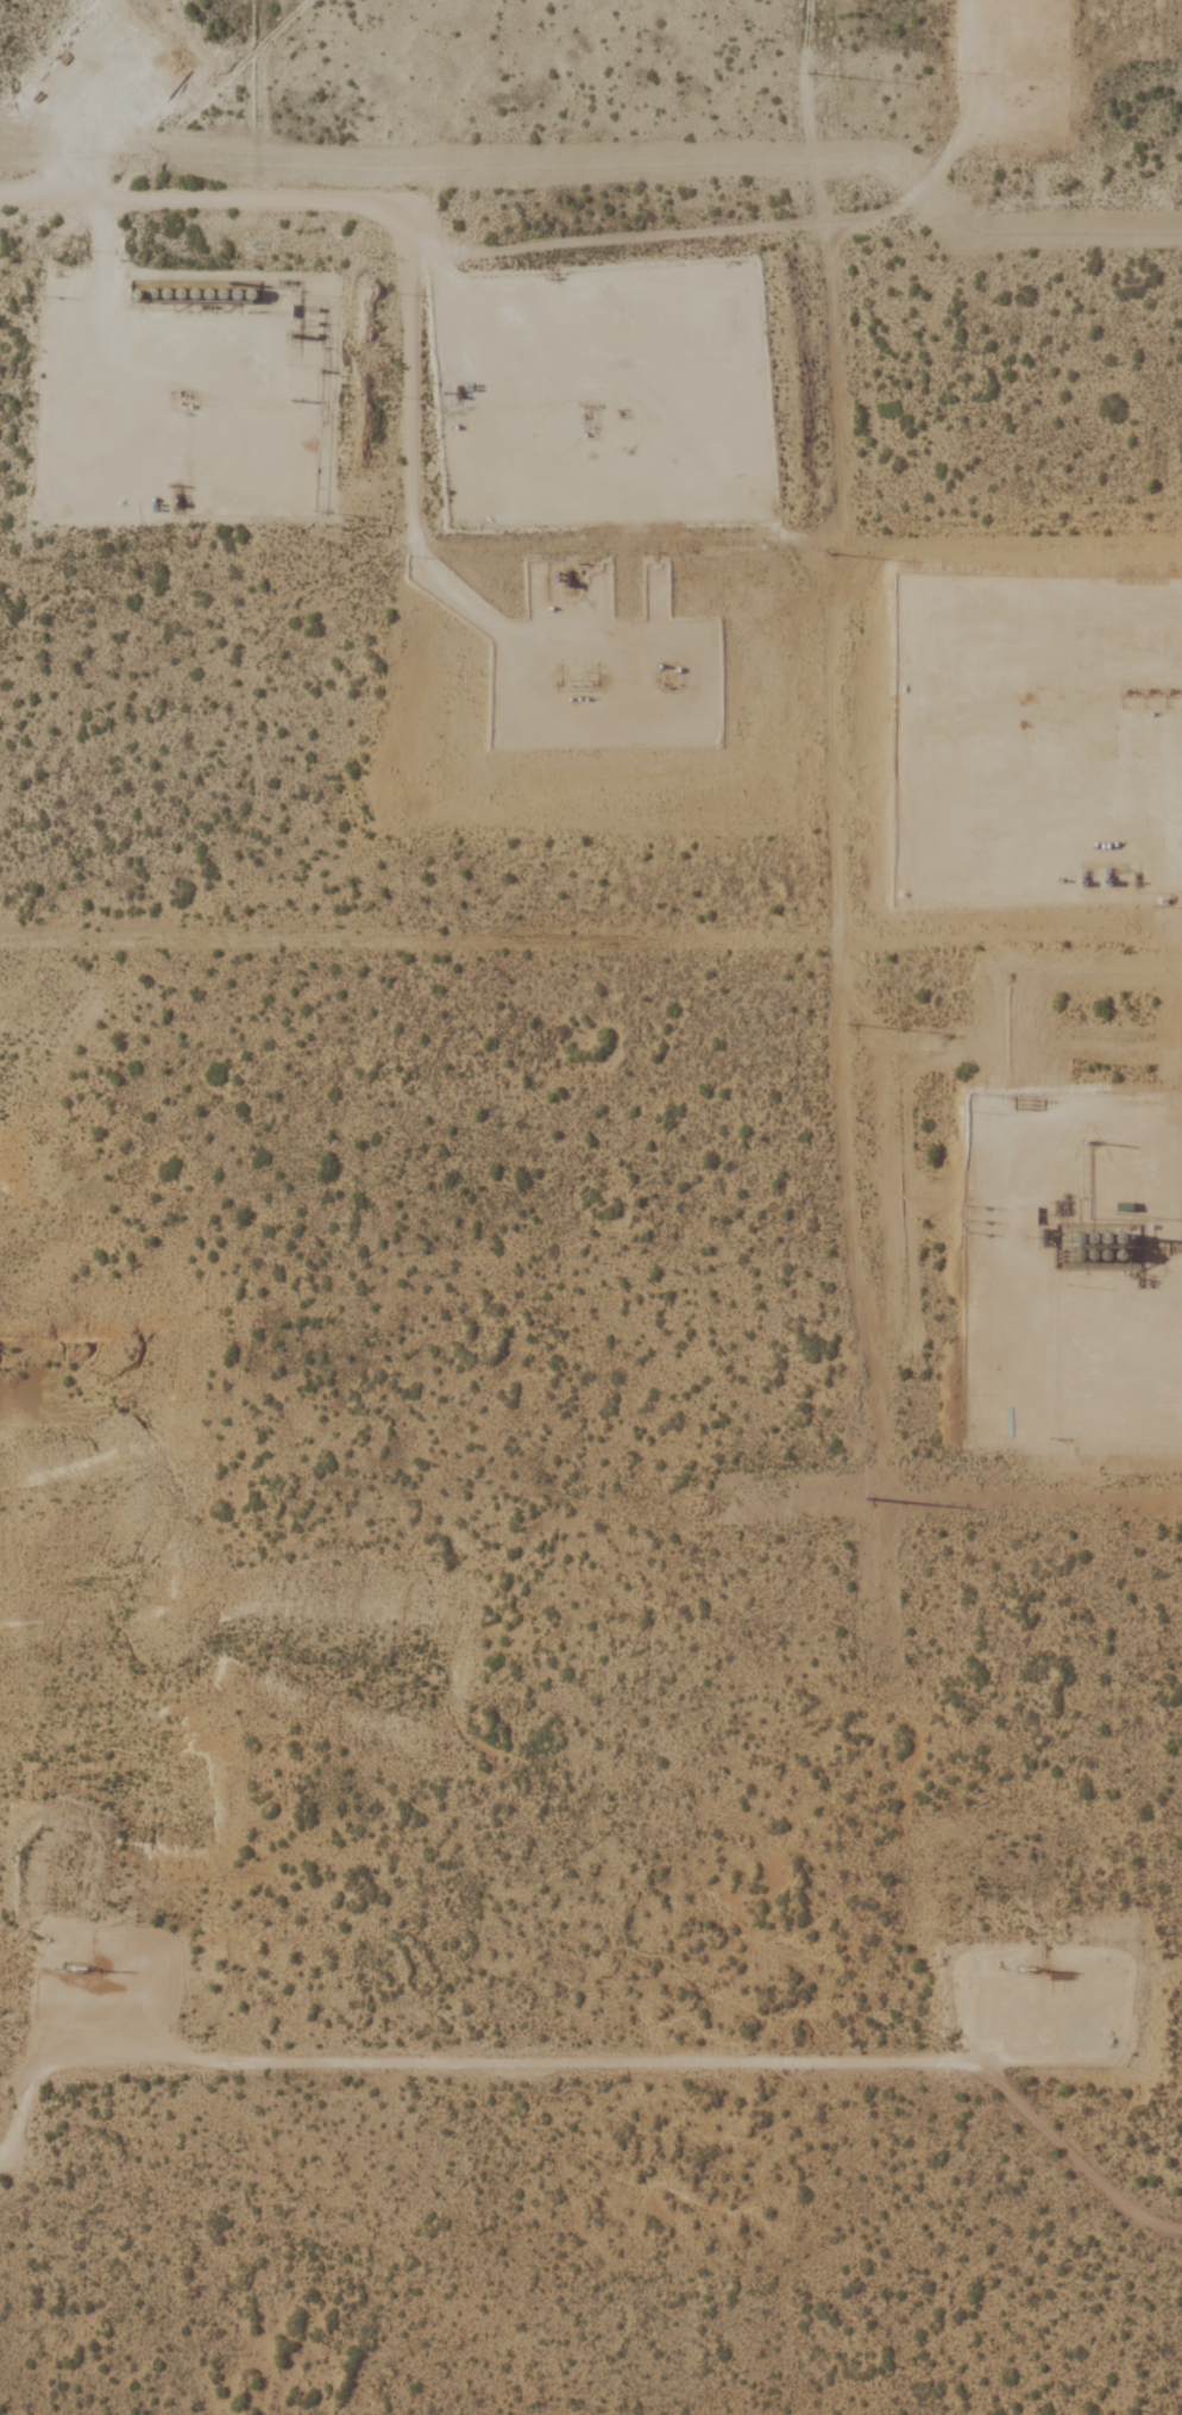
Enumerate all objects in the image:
road: (416, 228)
petroleum well: (184, 393)
petroleum well: (621, 414)
petroleum well: (584, 416)
petroleum well: (661, 682)
petroleum well: (674, 682)
petroleum well: (580, 683)
petroleum well: (592, 683)
petroleum well: (555, 684)
petroleum well: (567, 684)
petroleum well: (1128, 692)
petroleum well: (1150, 692)
petroleum well: (1171, 692)
road: (1086, 1416)
petroleum well: (76, 1962)
petroleum well: (1024, 1963)
road: (611, 2058)
road: (20, 2080)
road: (1086, 2137)

